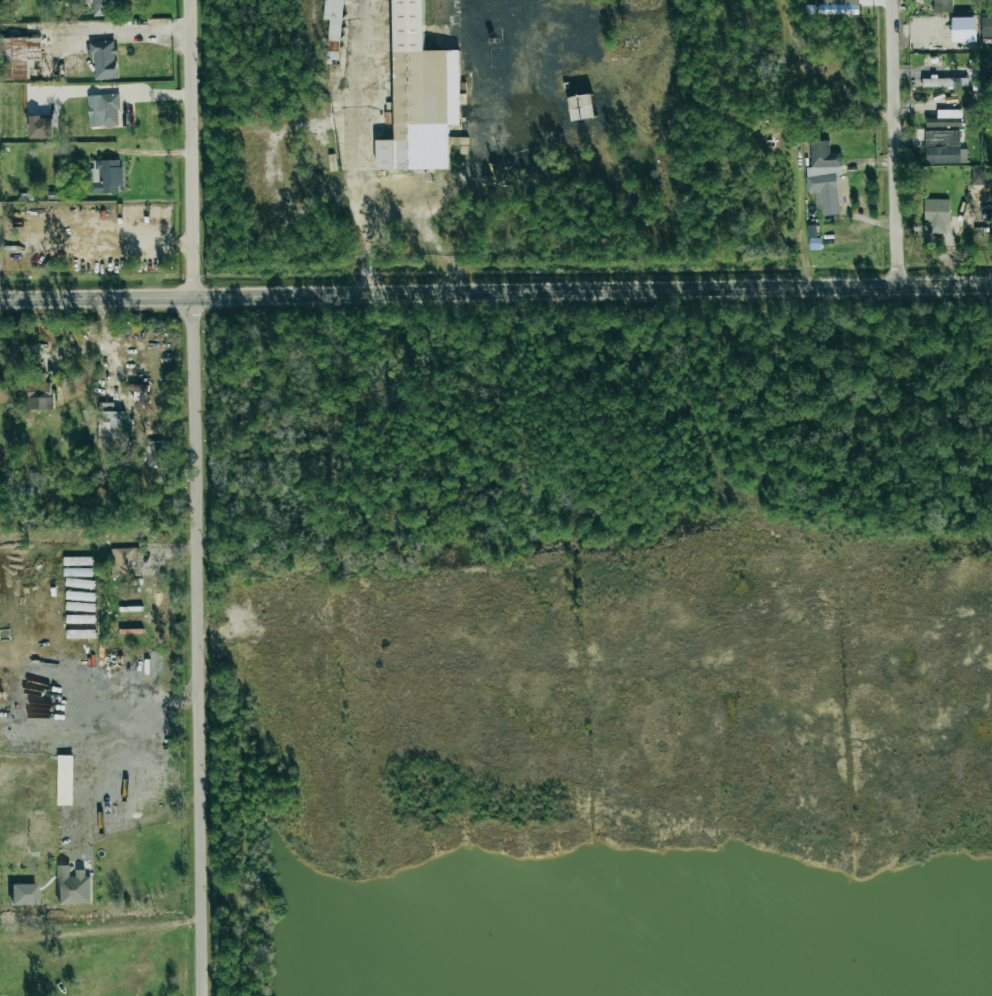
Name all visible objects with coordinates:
building: (942, 6)
building: (101, 7)
building: (839, 7)
building: (334, 27)
building: (986, 27)
road: (110, 29)
building: (18, 56)
building: (104, 59)
building: (497, 85)
building: (420, 96)
road: (354, 105)
building: (103, 110)
building: (945, 119)
building: (40, 127)
building: (460, 143)
road: (892, 143)
building: (944, 148)
building: (557, 149)
building: (824, 176)
building: (977, 176)
building: (105, 177)
road: (391, 212)
building: (936, 215)
road: (495, 292)
building: (40, 394)
building: (110, 421)
building: (156, 453)
road: (196, 498)
building: (77, 561)
building: (125, 562)
building: (77, 572)
building: (79, 583)
building: (80, 596)
building: (80, 619)
building: (85, 634)
road: (115, 708)
building: (73, 885)
building: (24, 894)

